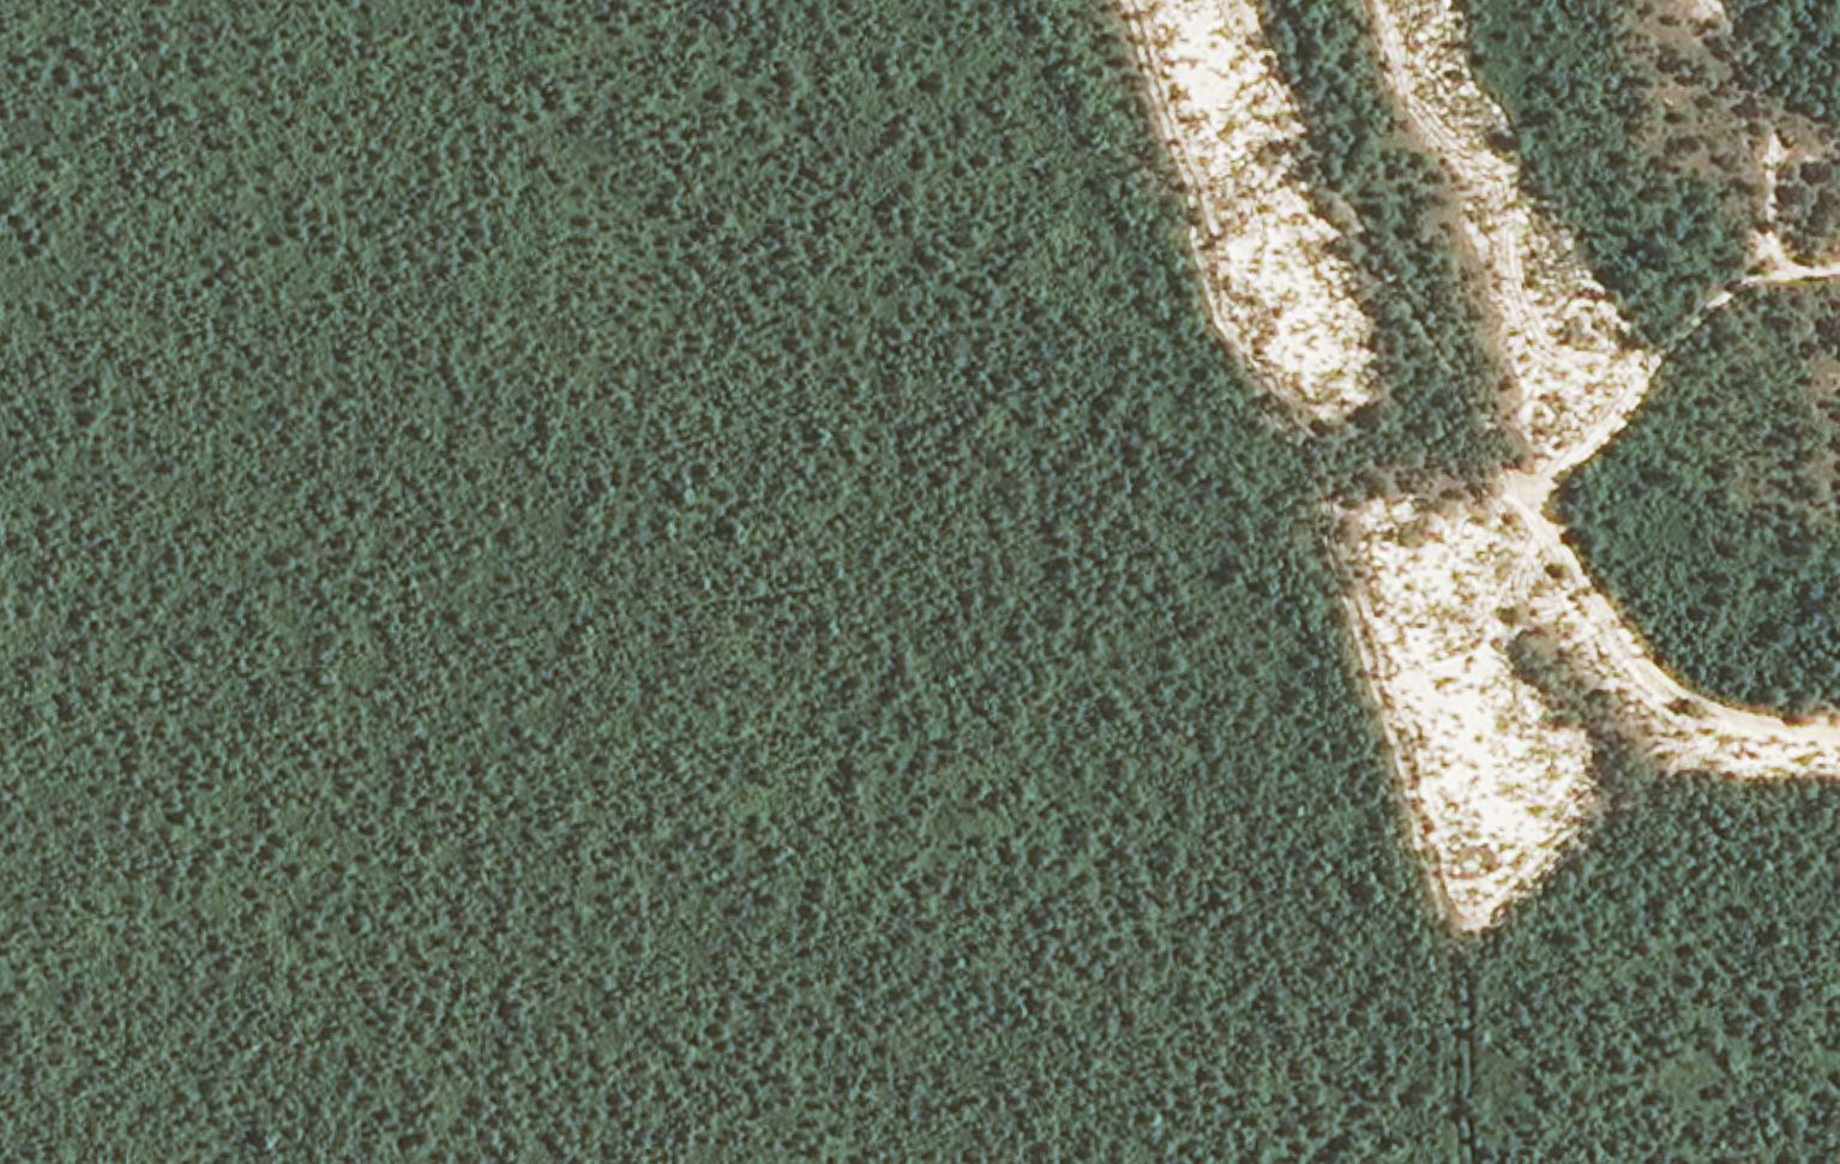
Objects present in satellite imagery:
road: (1473, 442)

